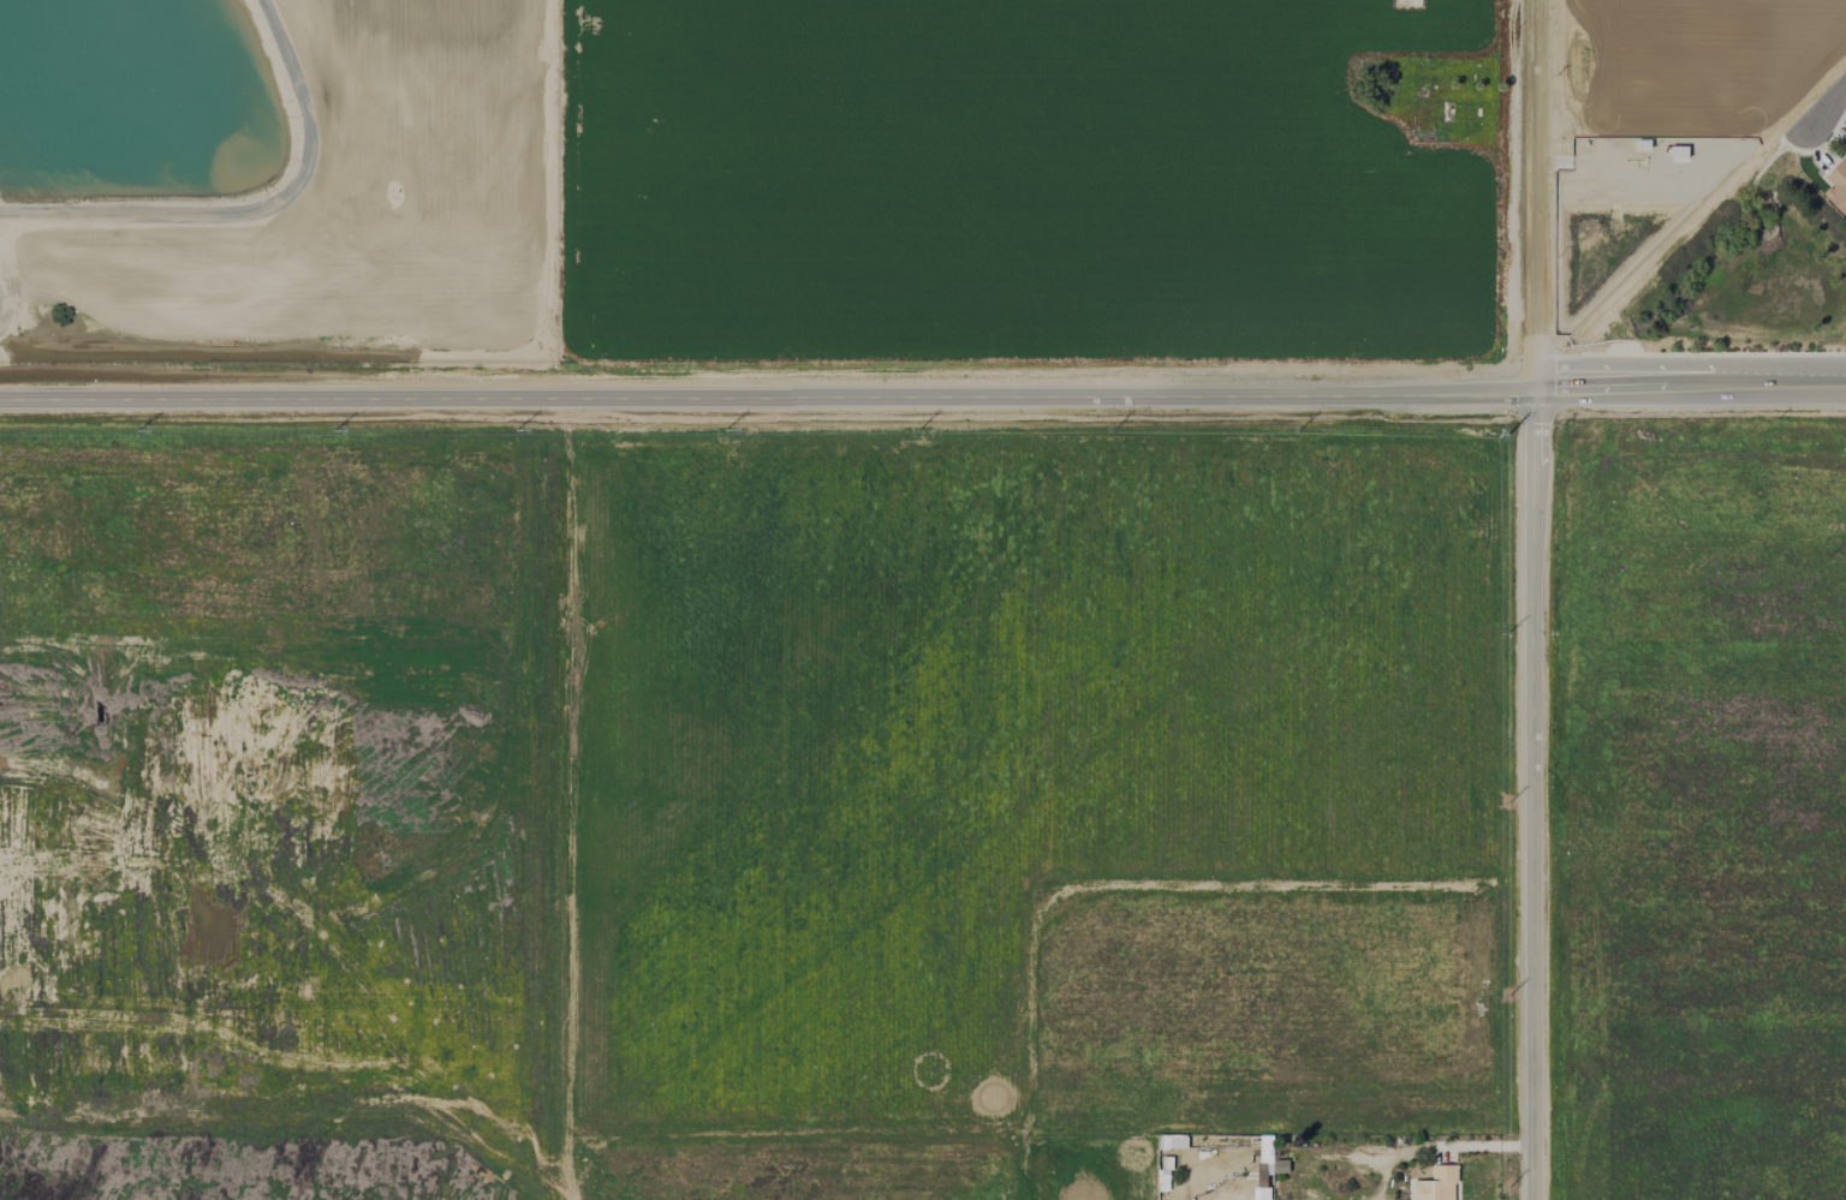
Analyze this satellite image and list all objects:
road: (1828, 106)
building: (1845, 153)
road: (1609, 173)
building: (1836, 186)
road: (922, 396)
road: (1534, 599)
road: (568, 800)
building: (1436, 1184)

